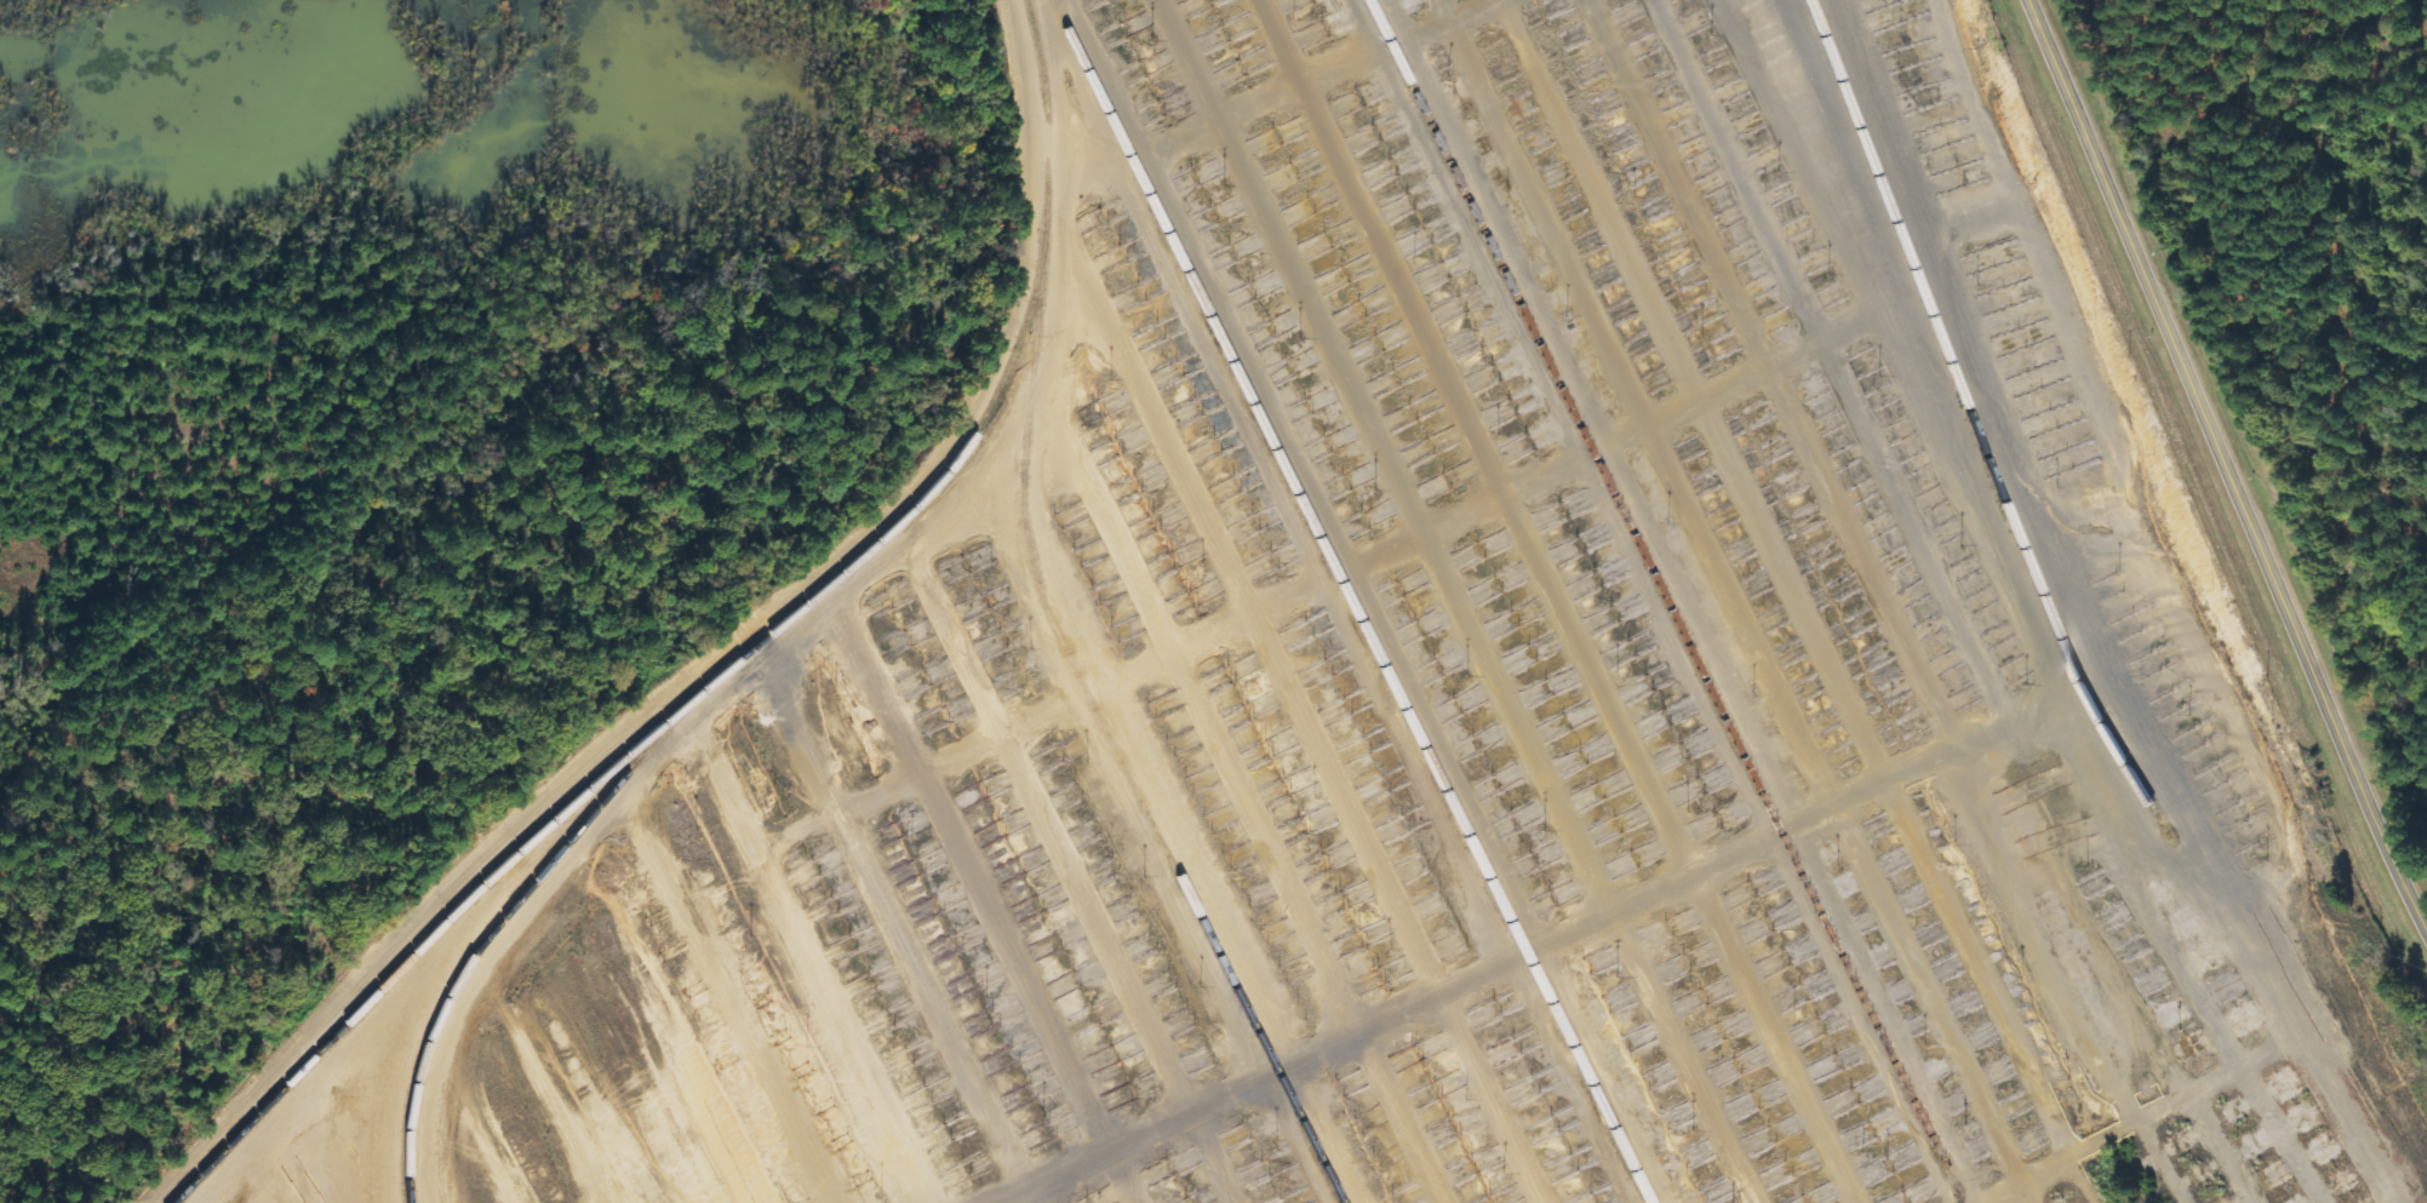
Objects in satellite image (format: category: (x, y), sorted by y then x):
building: (1589, 70)
building: (1608, 104)
building: (1270, 139)
railway: (1969, 420)
building: (1207, 452)
road: (2225, 465)
building: (1227, 489)
railway: (1656, 585)
railway: (1349, 601)
railway: (733, 661)
railway: (1105, 733)
railway: (497, 922)

